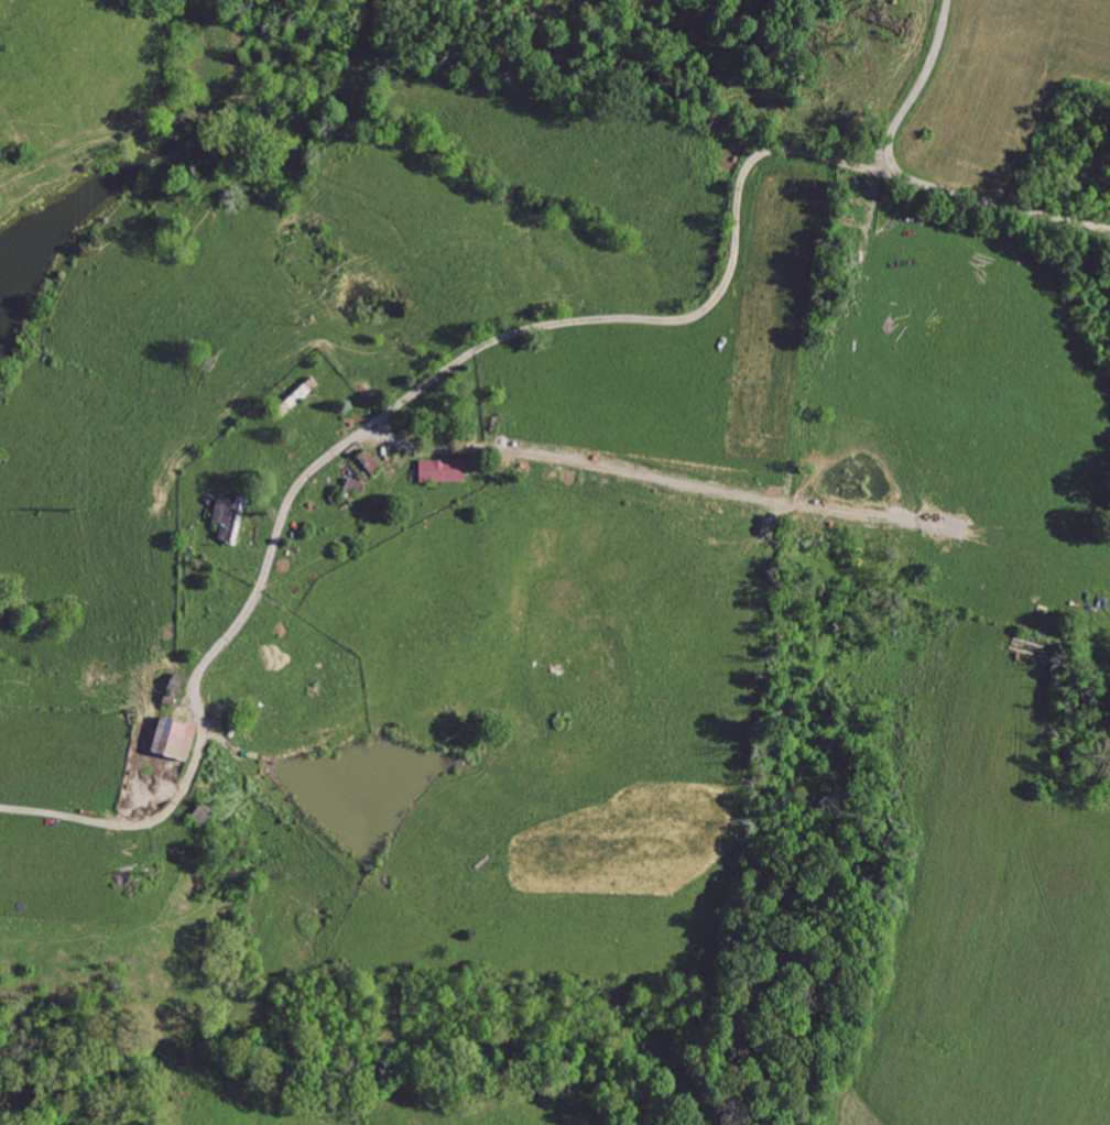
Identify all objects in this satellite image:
road: (916, 86)
road: (480, 347)
building: (439, 470)
building: (226, 518)
building: (174, 682)
building: (170, 739)
building: (199, 813)

